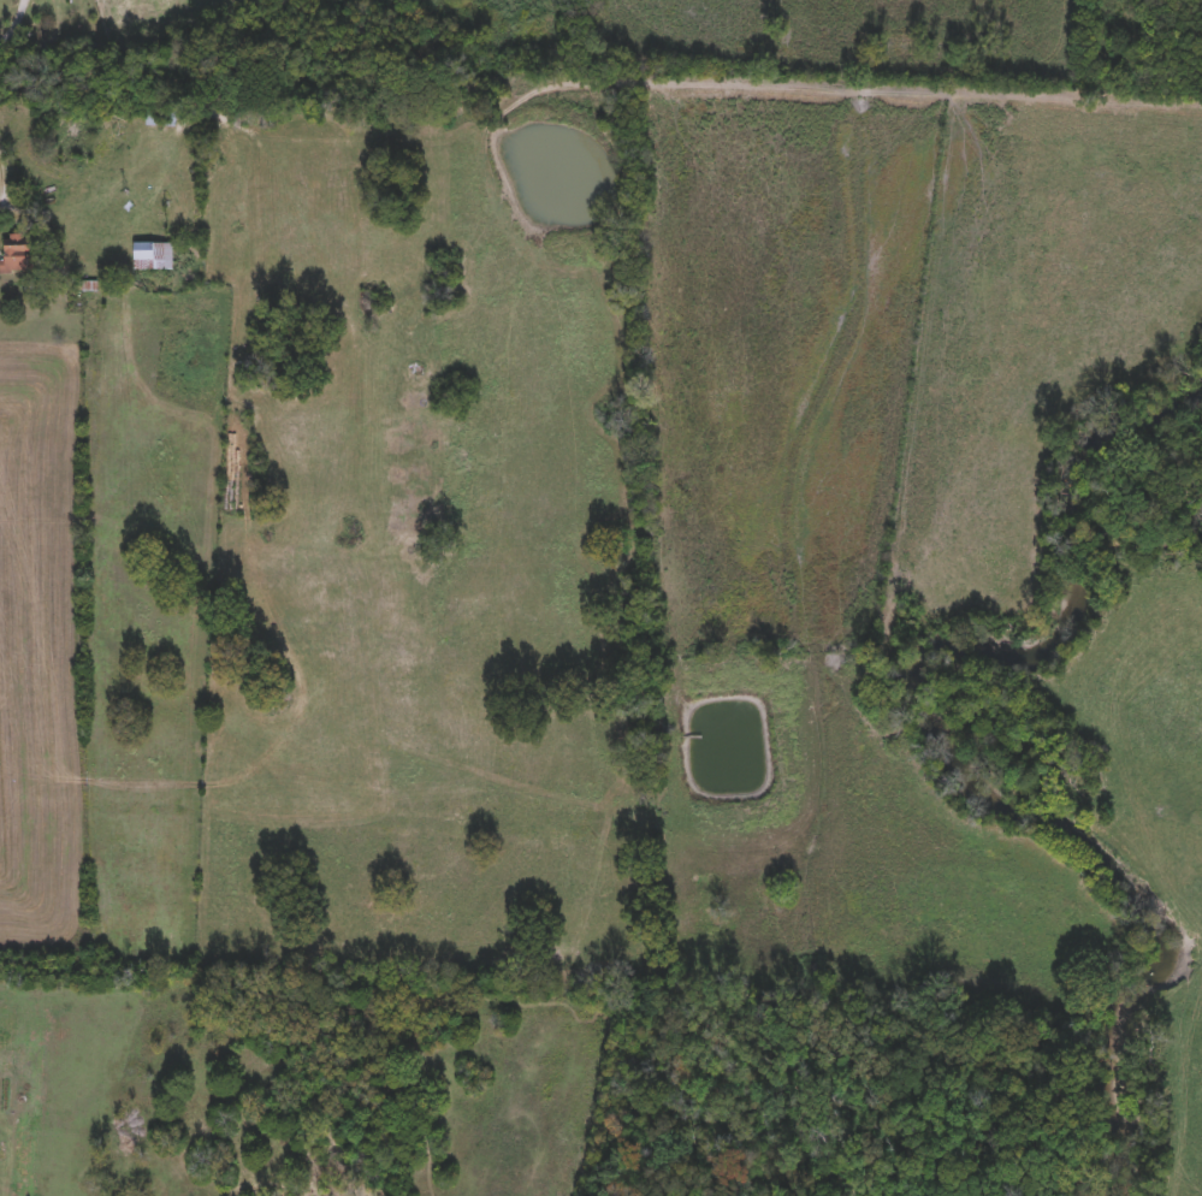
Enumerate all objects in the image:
road: (13, 20)
building: (160, 118)
building: (17, 254)
building: (153, 255)

